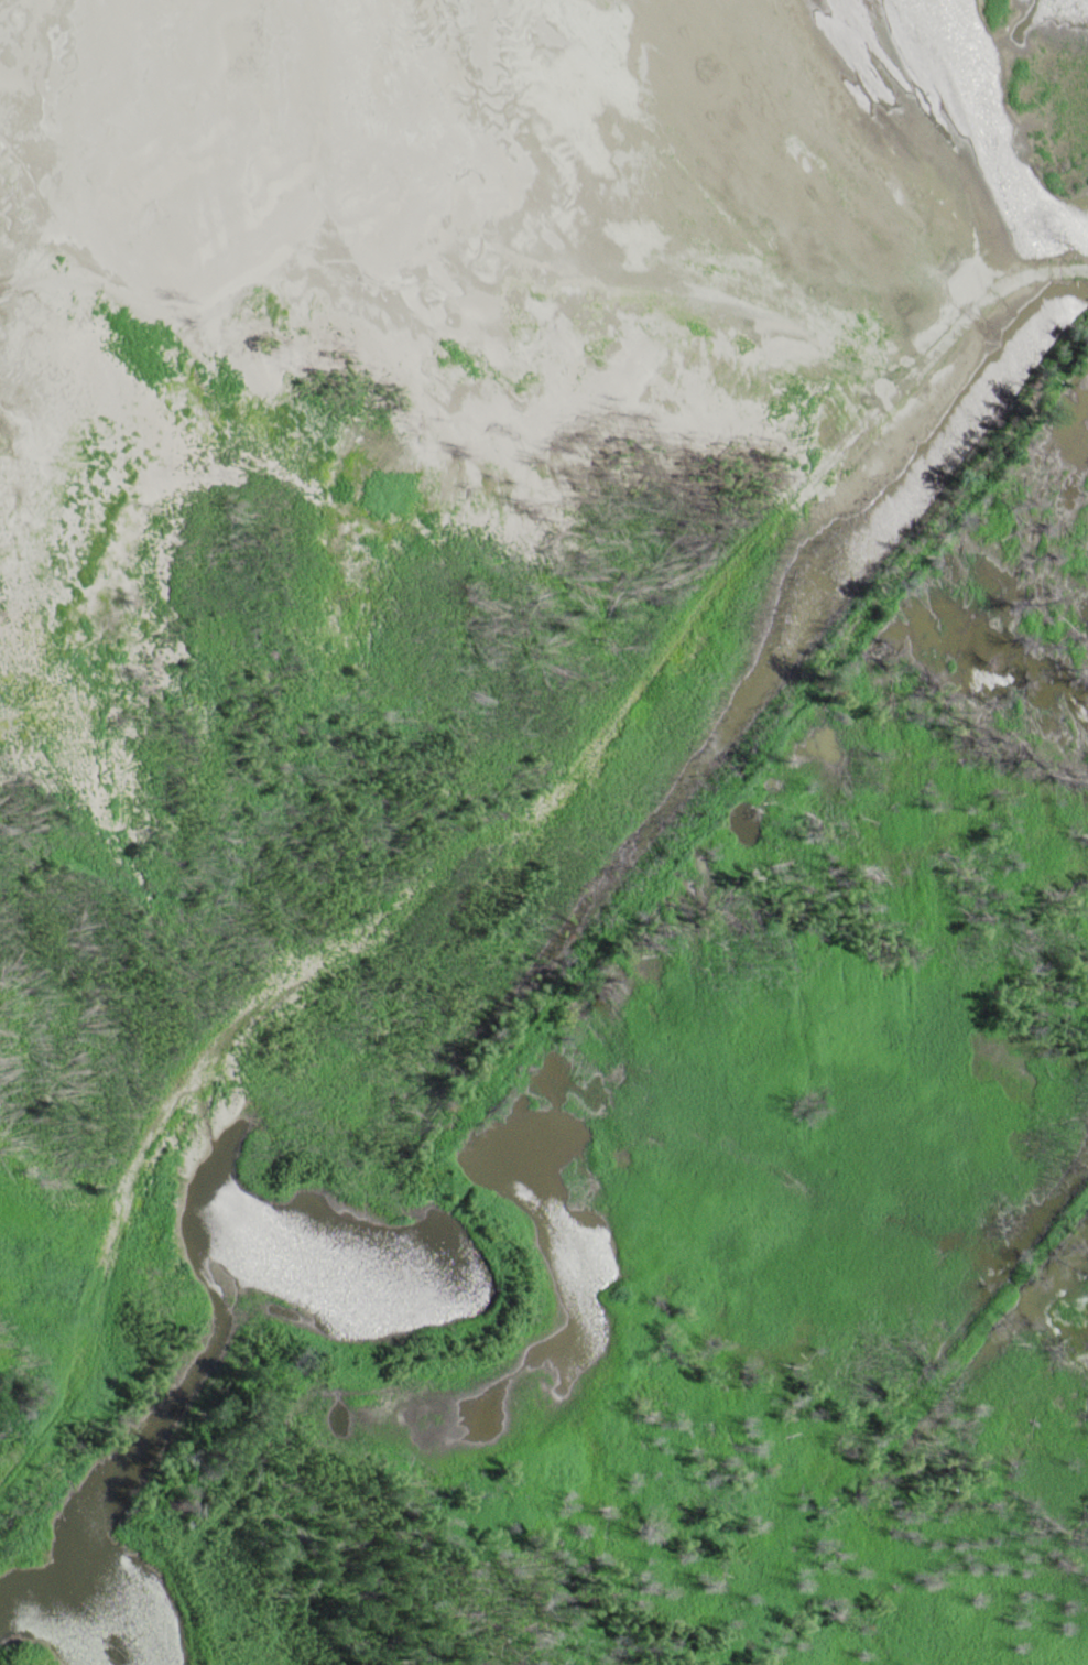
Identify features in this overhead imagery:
road: (521, 1169)
road: (989, 1309)

